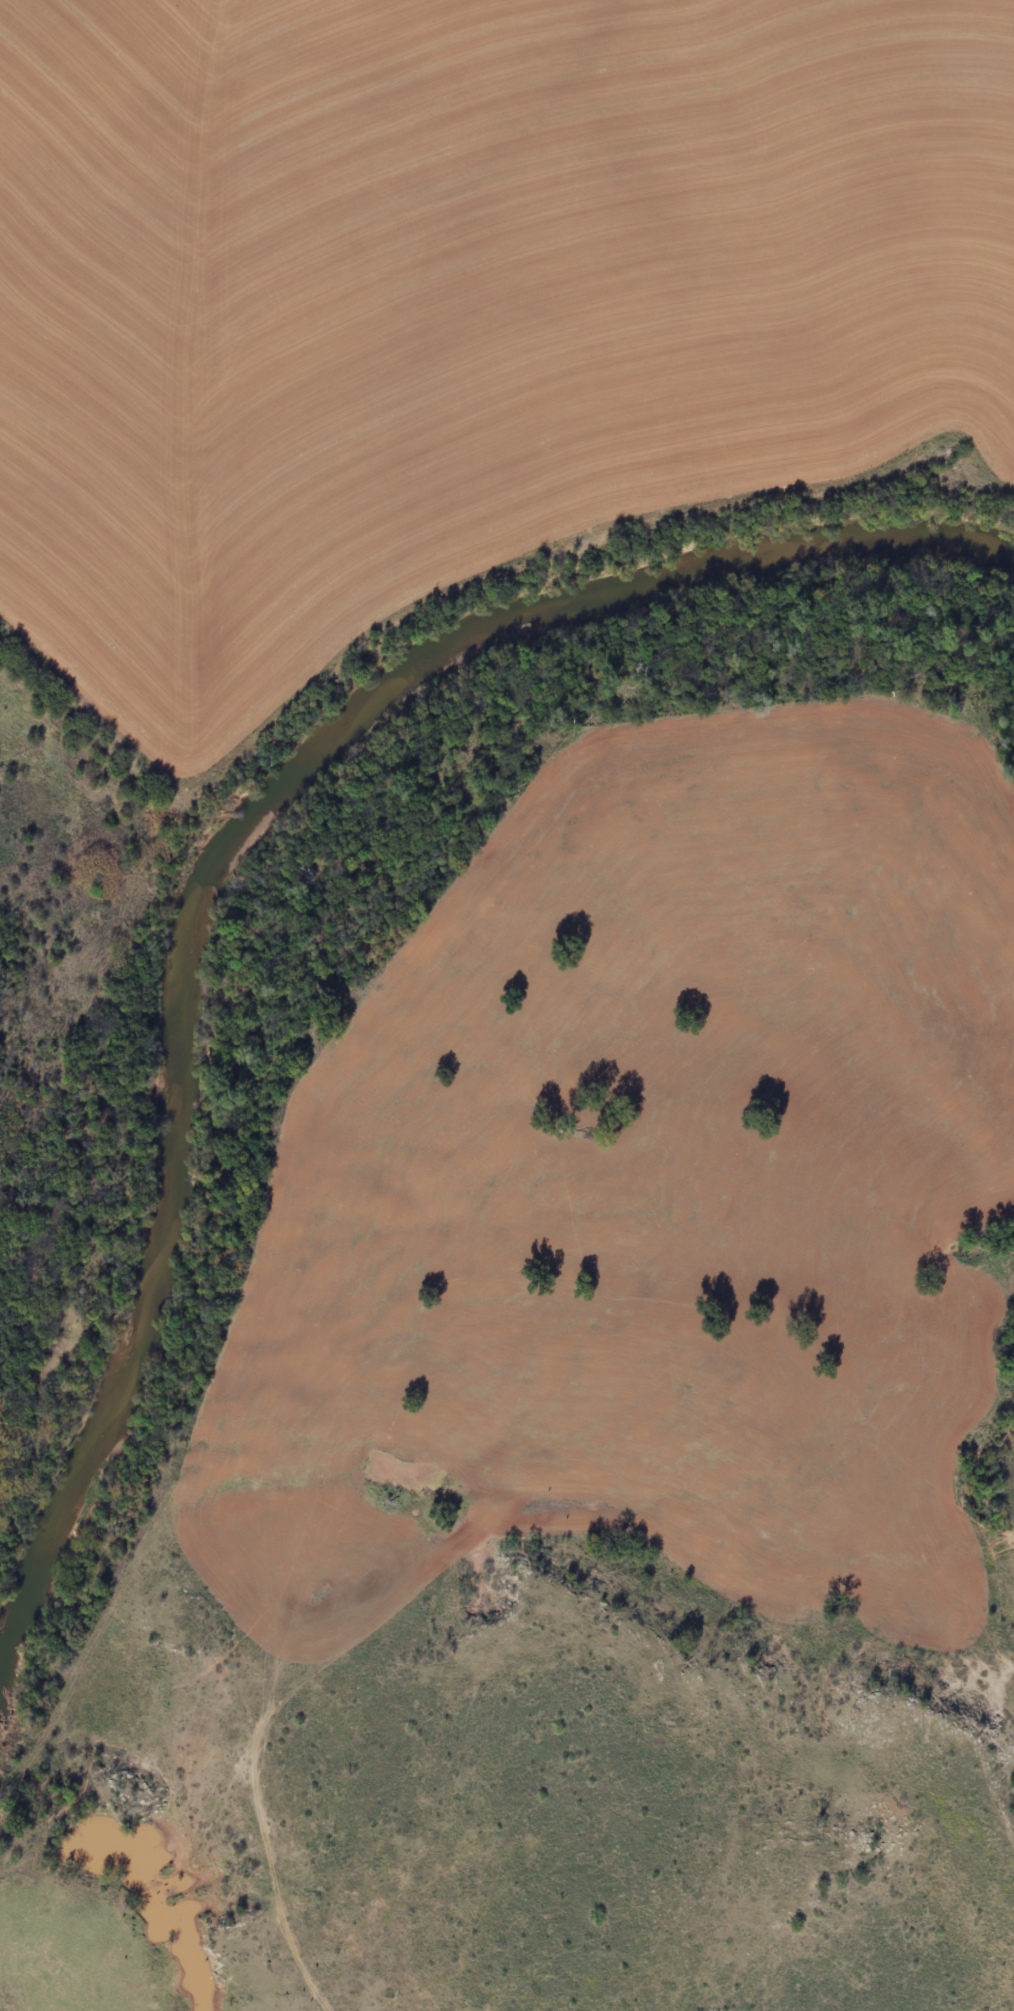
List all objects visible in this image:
river: (239, 845)

